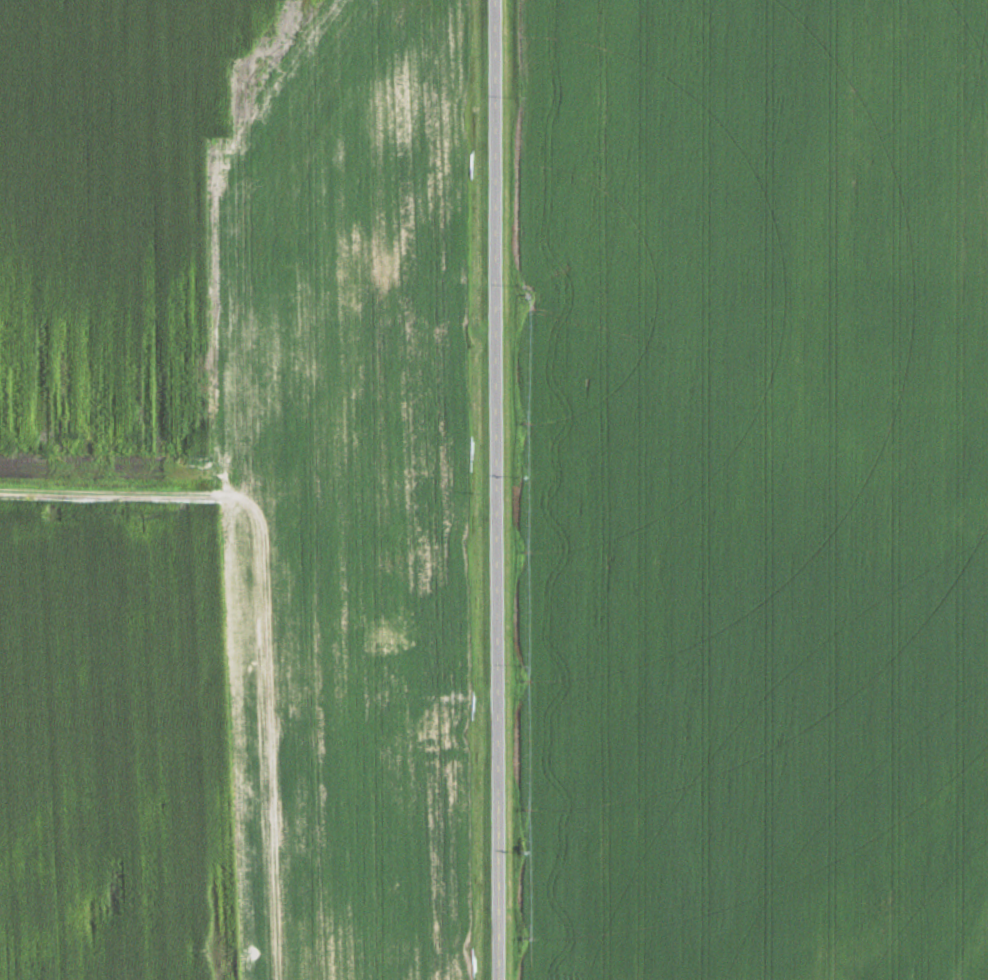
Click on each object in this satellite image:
road: (499, 490)

